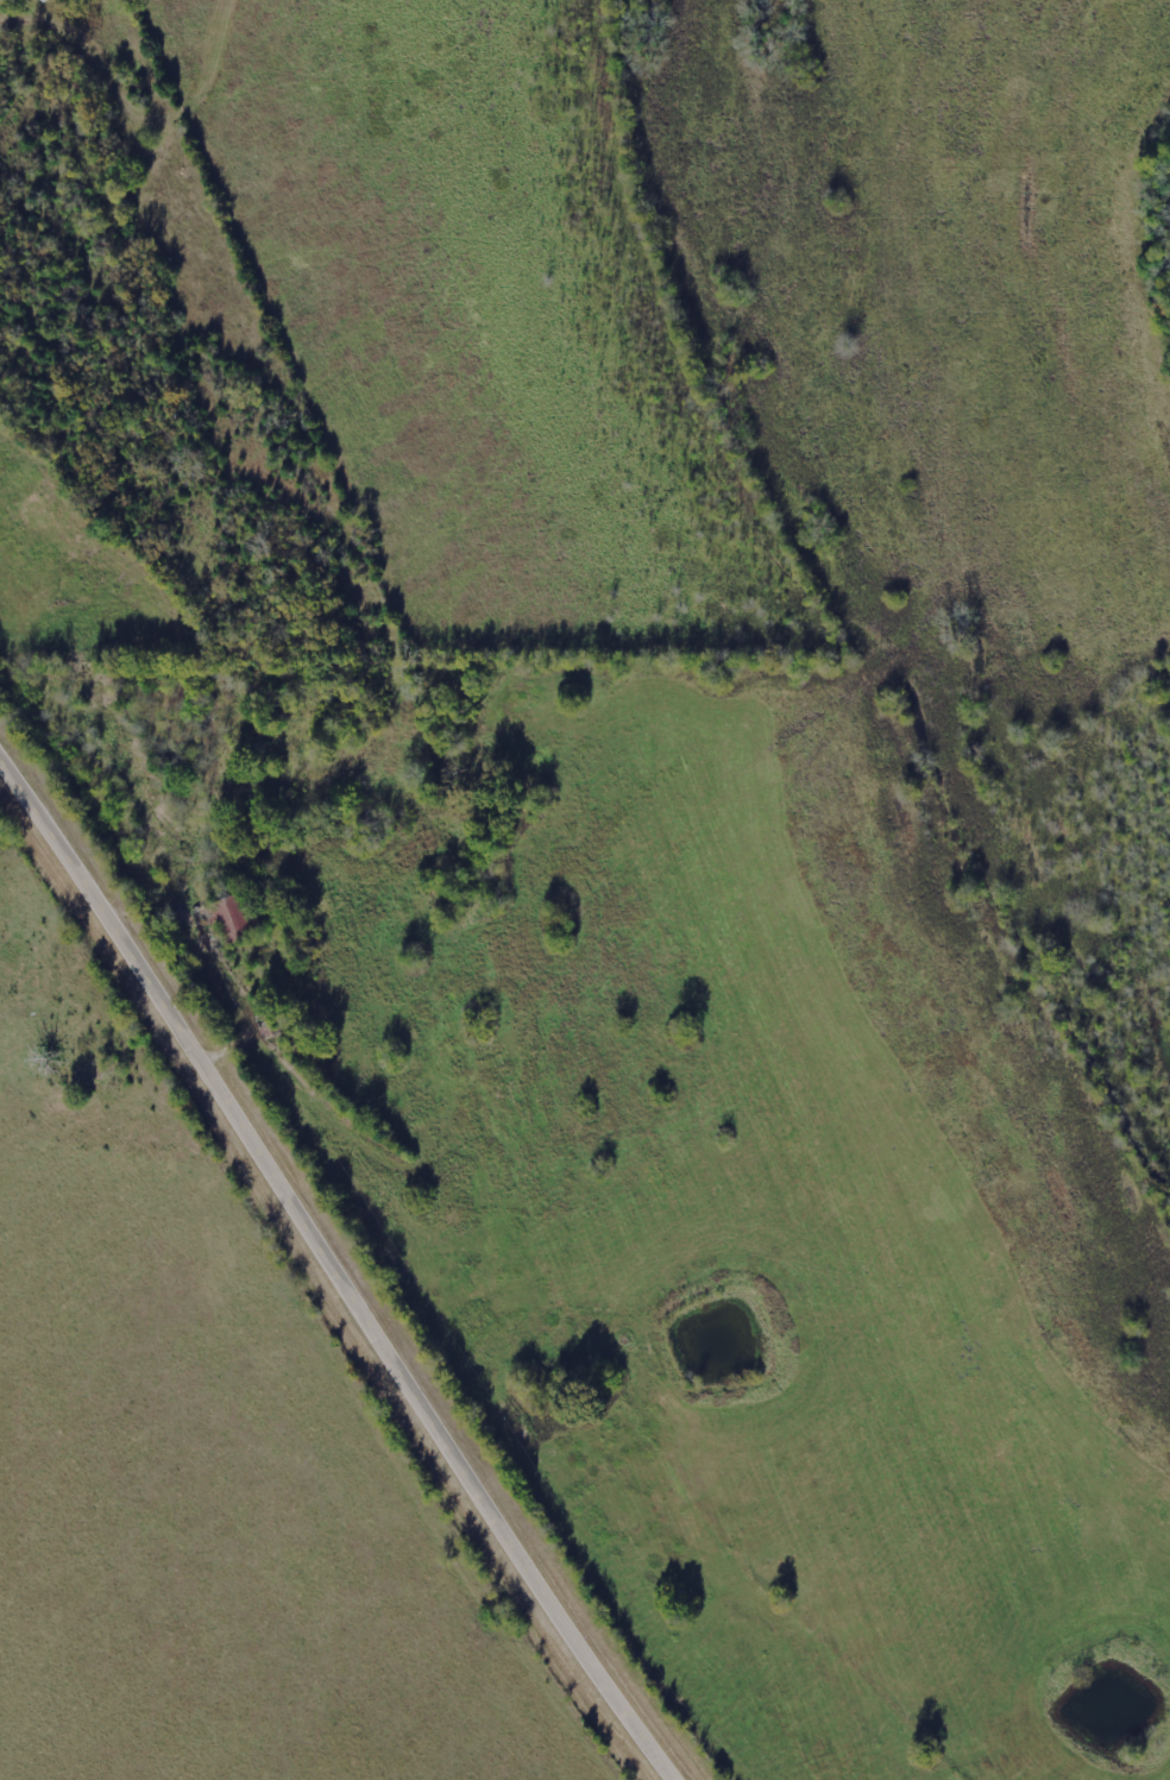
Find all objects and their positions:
road: (334, 1270)

